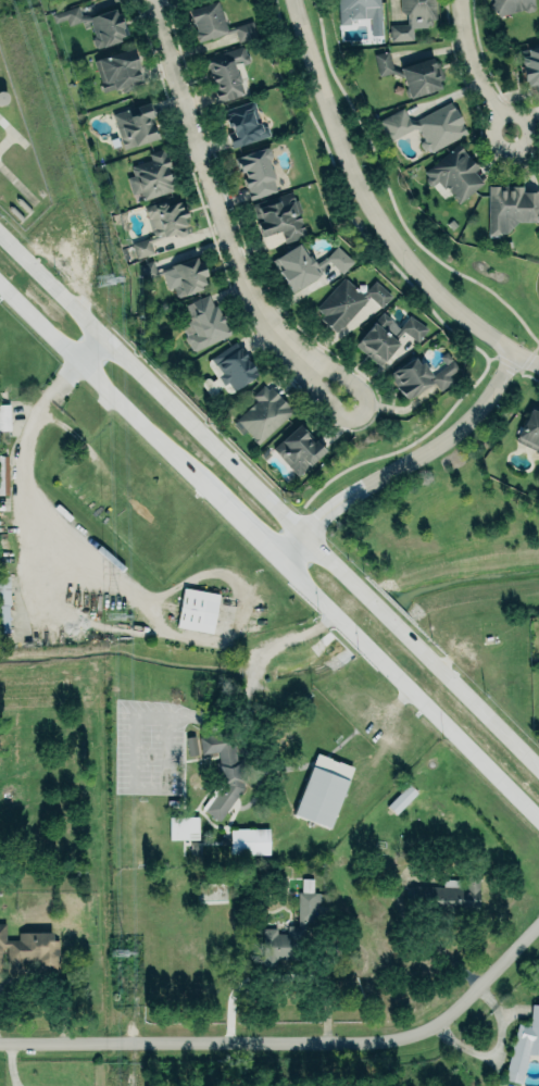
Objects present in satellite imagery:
building: (512, 5)
building: (358, 10)
building: (413, 17)
building: (93, 22)
building: (216, 23)
building: (530, 66)
road: (472, 68)
building: (116, 72)
building: (228, 72)
building: (411, 73)
building: (245, 124)
building: (135, 125)
building: (426, 125)
road: (3, 143)
road: (199, 149)
building: (258, 173)
building: (454, 173)
building: (150, 176)
road: (367, 202)
building: (511, 207)
building: (278, 216)
building: (160, 224)
building: (308, 264)
building: (147, 270)
building: (183, 276)
power tower: (102, 280)
building: (348, 301)
building: (205, 325)
building: (386, 337)
road: (528, 358)
building: (234, 365)
building: (411, 377)
road: (178, 412)
building: (264, 414)
building: (4, 416)
road: (367, 419)
building: (529, 430)
building: (298, 449)
road: (166, 453)
road: (405, 463)
building: (3, 475)
road: (78, 552)
building: (3, 604)
road: (377, 609)
building: (197, 610)
power tower: (115, 616)
road: (350, 631)
road: (286, 637)
road: (249, 678)
road: (469, 700)
road: (198, 716)
road: (451, 732)
building: (190, 746)
building: (223, 771)
building: (319, 797)
building: (401, 798)
building: (183, 827)
building: (249, 841)
building: (457, 896)
building: (306, 902)
road: (422, 935)
building: (273, 946)
building: (29, 951)
road: (278, 976)
road: (289, 1043)
building: (524, 1045)

